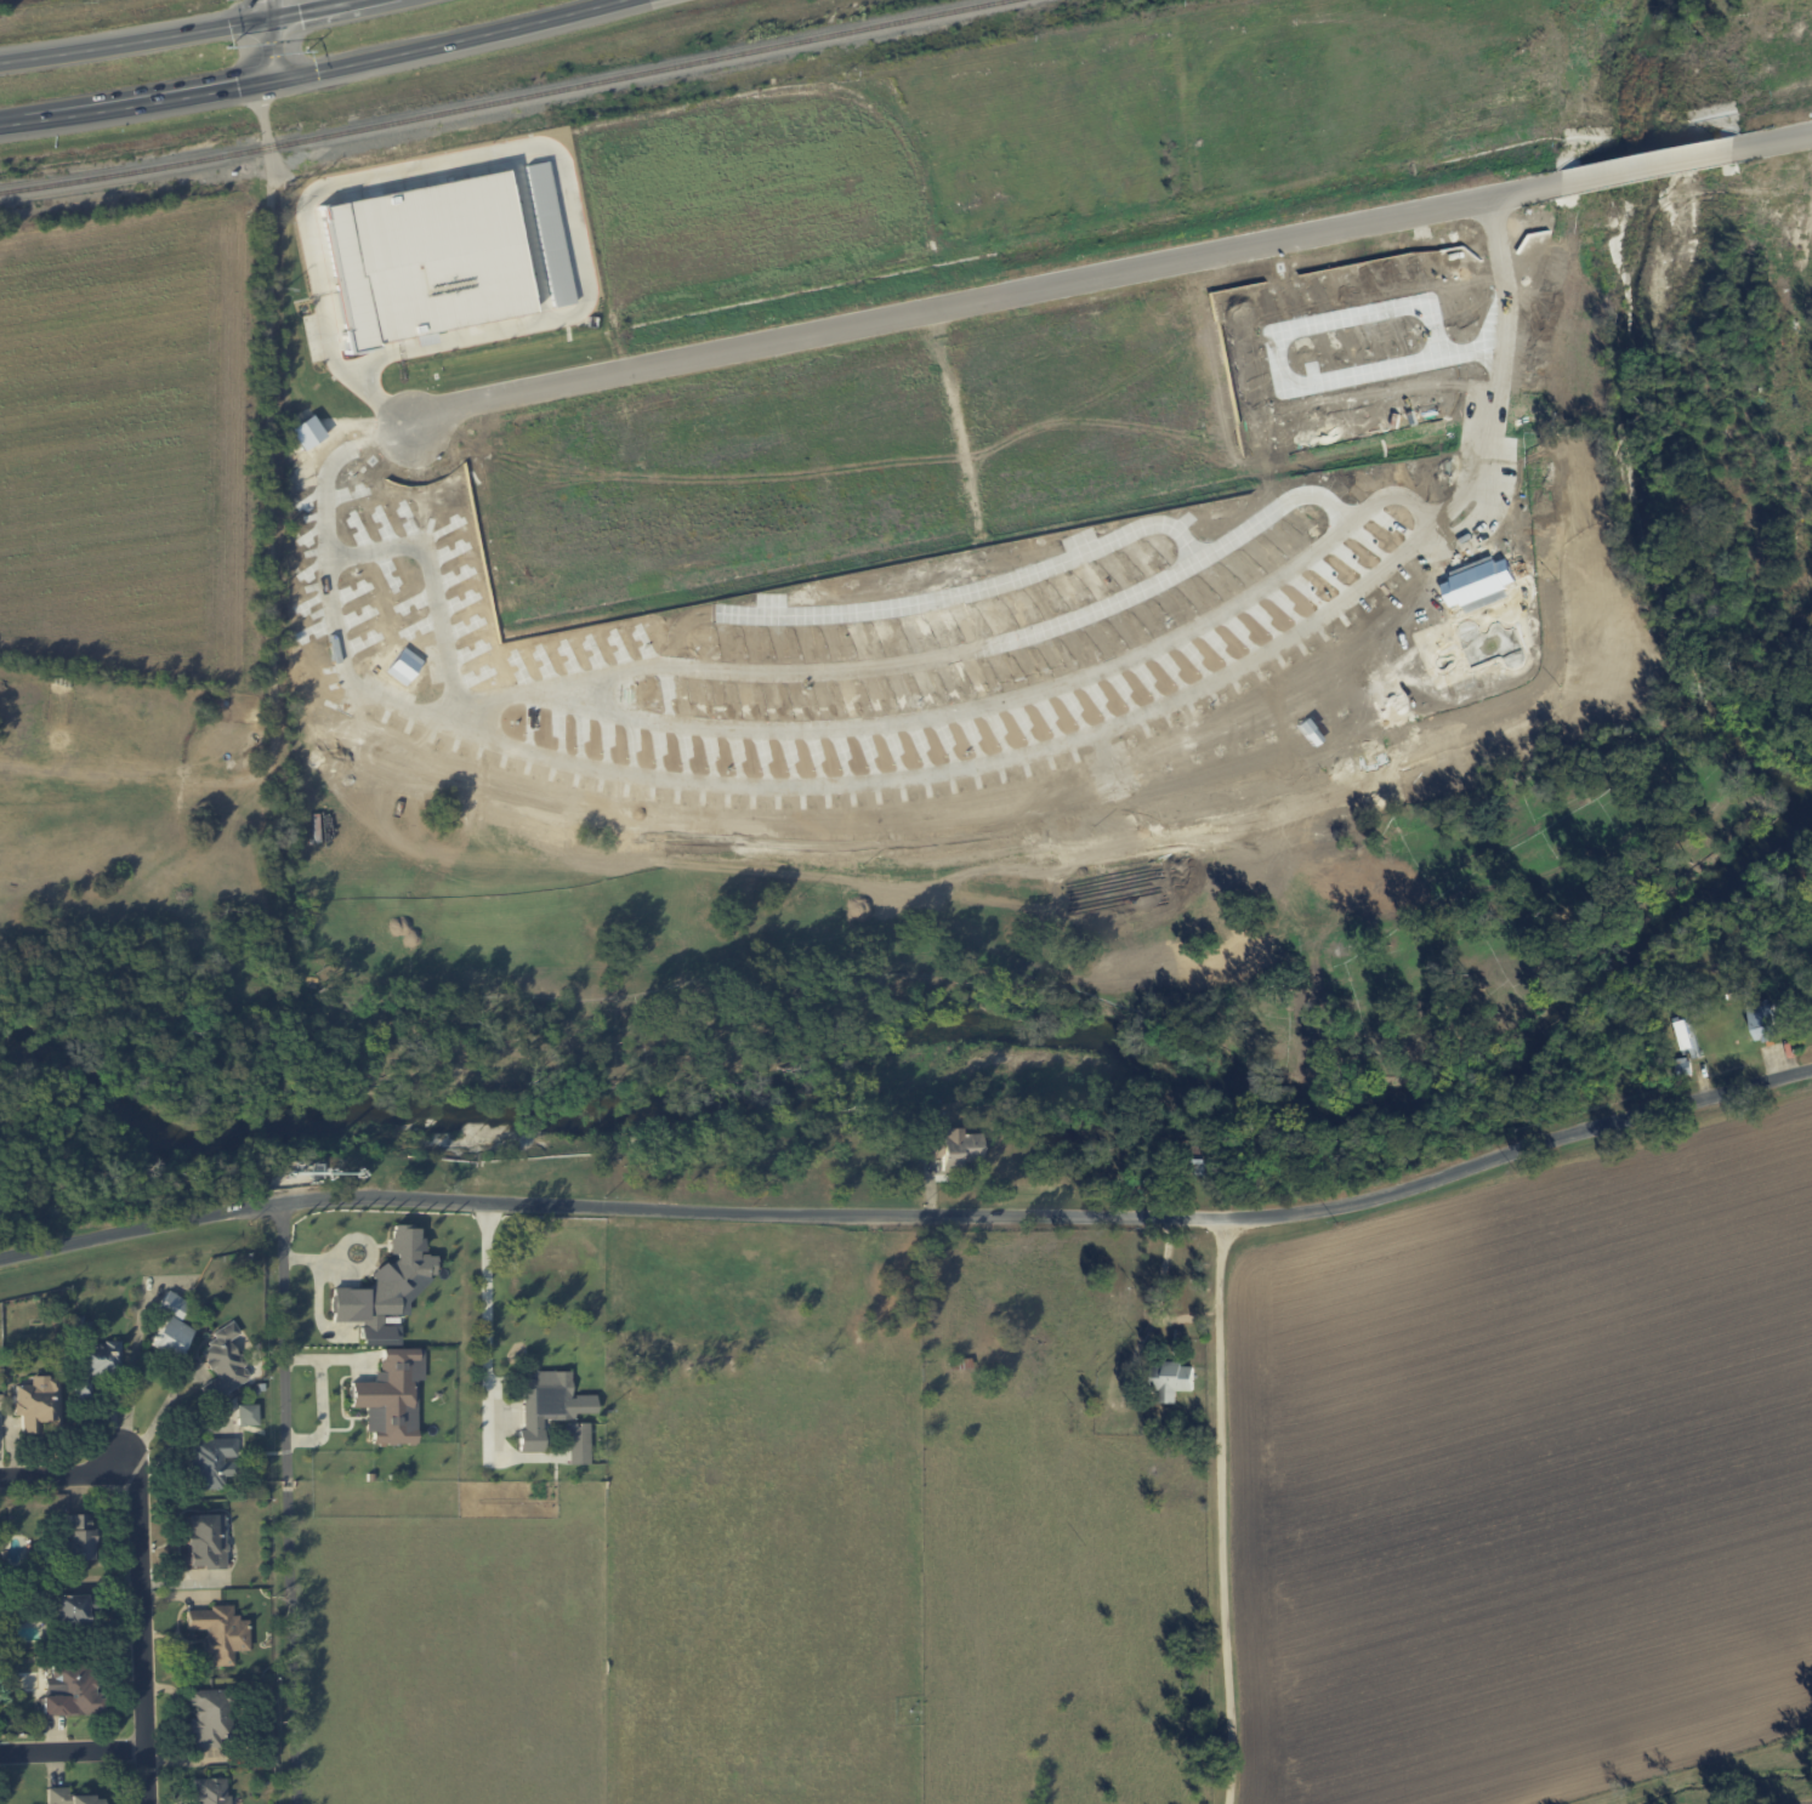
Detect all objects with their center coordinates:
traffic signals: (272, 18)
road: (175, 34)
road: (271, 40)
road: (318, 70)
railway: (640, 73)
traffic signals: (269, 81)
road: (1772, 137)
road: (1649, 164)
railway: (134, 171)
road: (985, 298)
road: (1276, 369)
road: (280, 415)
road: (438, 592)
road: (937, 603)
road: (979, 650)
building: (932, 666)
building: (830, 683)
building: (1078, 695)
road: (977, 710)
building: (1092, 750)
road: (943, 774)
building: (1763, 1021)
building: (953, 1145)
road: (914, 1213)
road: (1159, 1286)
building: (386, 1288)
road: (484, 1294)
building: (171, 1325)
road: (333, 1359)
building: (222, 1364)
building: (93, 1365)
building: (1171, 1381)
building: (38, 1402)
building: (543, 1405)
building: (387, 1409)
road: (159, 1413)
building: (246, 1413)
road: (323, 1415)
building: (576, 1442)
building: (209, 1462)
crop: (1528, 1480)
road: (289, 1503)
road: (1228, 1514)
building: (76, 1537)
building: (205, 1541)
road: (138, 1566)
building: (73, 1609)
building: (218, 1633)
building: (70, 1688)
building: (210, 1718)
road: (74, 1752)
building: (210, 1791)
crop: (1796, 1796)
building: (70, 1797)

